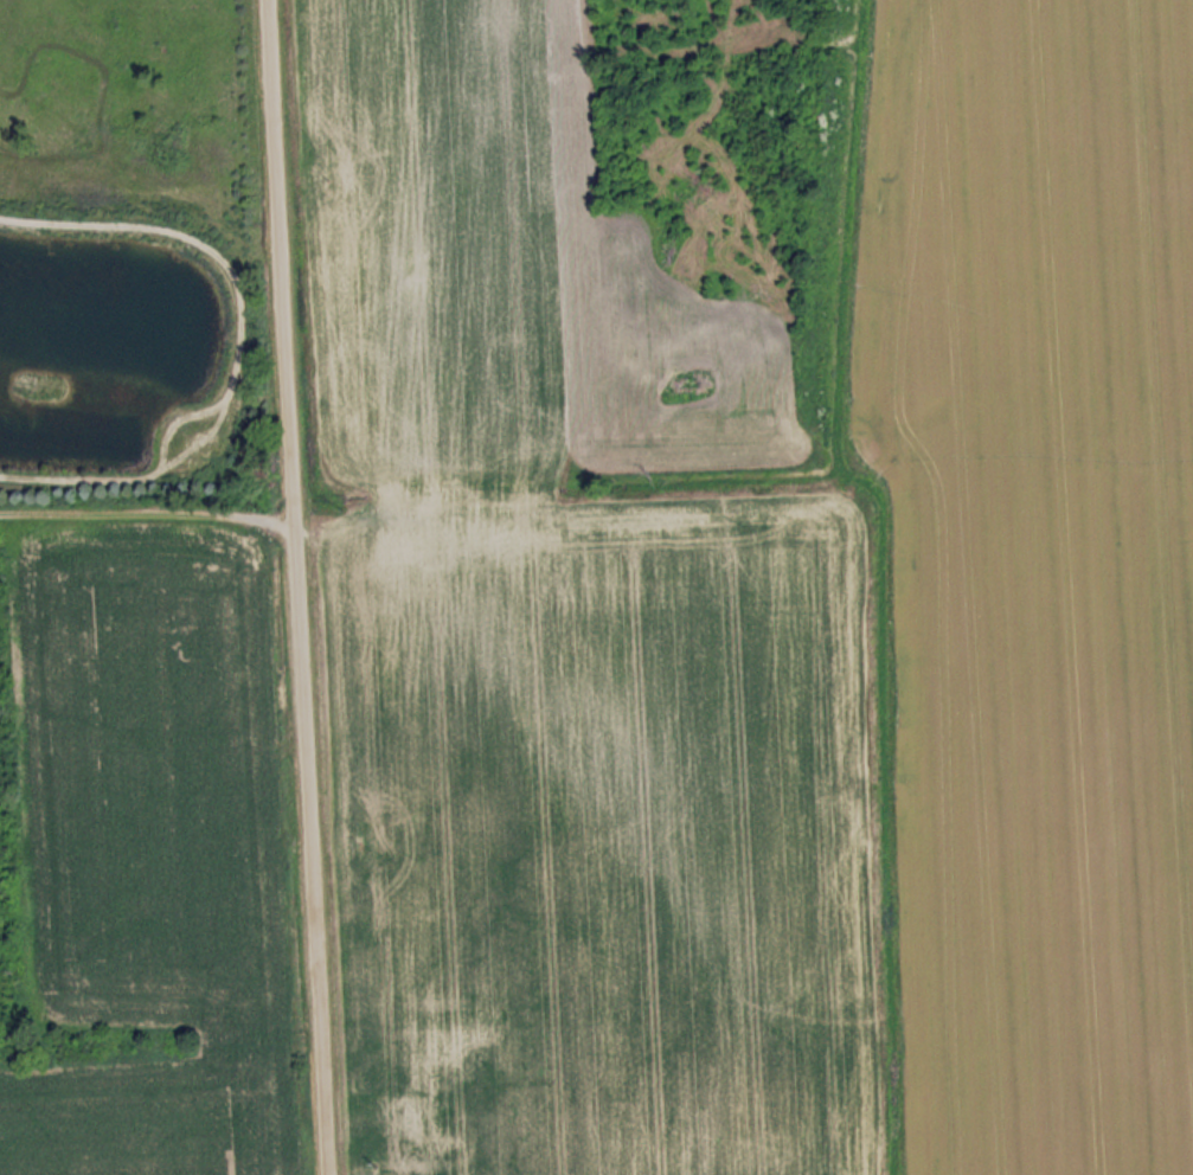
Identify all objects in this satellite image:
road: (290, 587)

